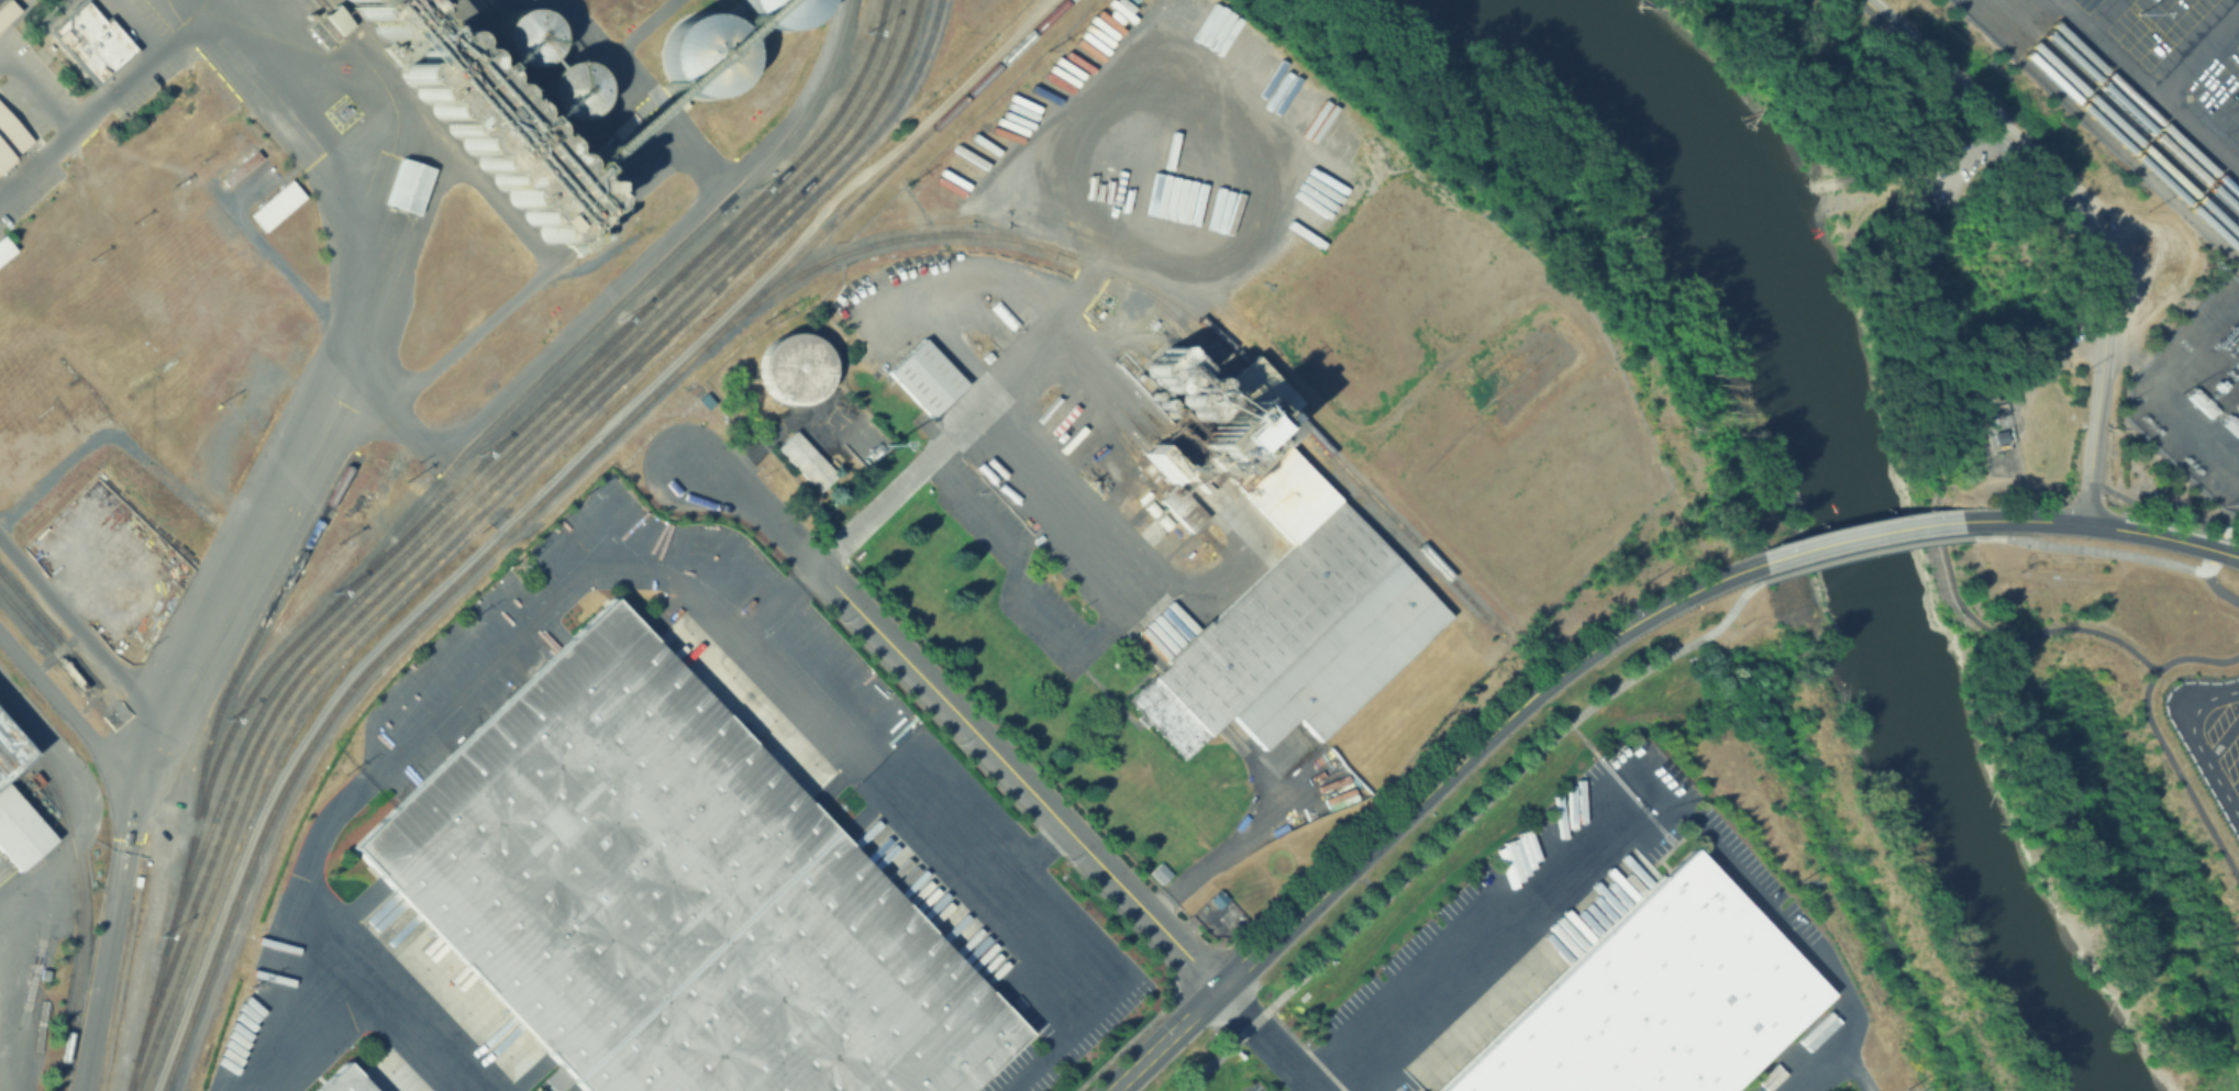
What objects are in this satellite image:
building: (5, 10)
building: (780, 12)
silo: (780, 12)
road: (2097, 13)
building: (383, 15)
silo: (383, 15)
building: (335, 20)
building: (323, 29)
building: (525, 37)
silo: (525, 37)
building: (90, 42)
road: (2197, 49)
building: (703, 55)
silo: (703, 55)
building: (2237, 69)
road: (35, 81)
road: (2146, 85)
road: (111, 90)
building: (568, 91)
silo: (568, 91)
railway: (2132, 99)
railway: (2122, 107)
road: (796, 108)
railway: (2110, 119)
railway: (2103, 126)
building: (496, 134)
building: (9, 135)
road: (1959, 152)
building: (404, 187)
parking lot: (1944, 187)
road: (1881, 191)
road: (2085, 218)
railway: (767, 232)
railway: (974, 234)
building: (586, 236)
park: (1942, 236)
railway: (725, 238)
building: (4, 247)
road: (271, 256)
road: (631, 274)
railway: (1160, 296)
railway: (609, 315)
building: (1006, 320)
railway: (610, 350)
railway: (636, 357)
building: (985, 358)
road: (2044, 365)
building: (791, 369)
building: (925, 380)
road: (1984, 385)
railway: (1268, 389)
power substation: (2197, 397)
railway: (1257, 399)
road: (323, 425)
road: (780, 428)
building: (1997, 436)
road: (131, 442)
railway: (509, 454)
building: (805, 463)
road: (1030, 474)
railway: (452, 492)
railway: (544, 497)
railway: (1351, 497)
railway: (467, 509)
railway: (484, 509)
railway: (1392, 519)
road: (2031, 521)
road: (2149, 533)
road: (1869, 534)
road: (1866, 549)
road: (2093, 550)
road: (2225, 550)
road: (2209, 560)
road: (1019, 589)
road: (2220, 590)
building: (1282, 593)
road: (779, 600)
road: (720, 616)
road: (80, 627)
road: (1628, 627)
road: (2003, 635)
railway: (57, 641)
railway: (52, 653)
railway: (243, 656)
road: (2197, 658)
road: (69, 708)
road: (962, 717)
road: (2221, 735)
road: (2196, 744)
road: (1604, 762)
road: (2181, 777)
road: (1641, 795)
road: (84, 799)
road: (1404, 800)
road: (1417, 814)
road: (1464, 824)
building: (15, 835)
building: (133, 840)
road: (1222, 845)
road: (1359, 854)
road: (1029, 858)
railway: (81, 882)
road: (1370, 887)
building: (1216, 898)
building: (663, 899)
road: (1267, 944)
road: (357, 960)
road: (104, 966)
building: (1651, 1001)
road: (1266, 1039)
road: (1166, 1040)
building: (336, 1082)
road: (3, 1084)

